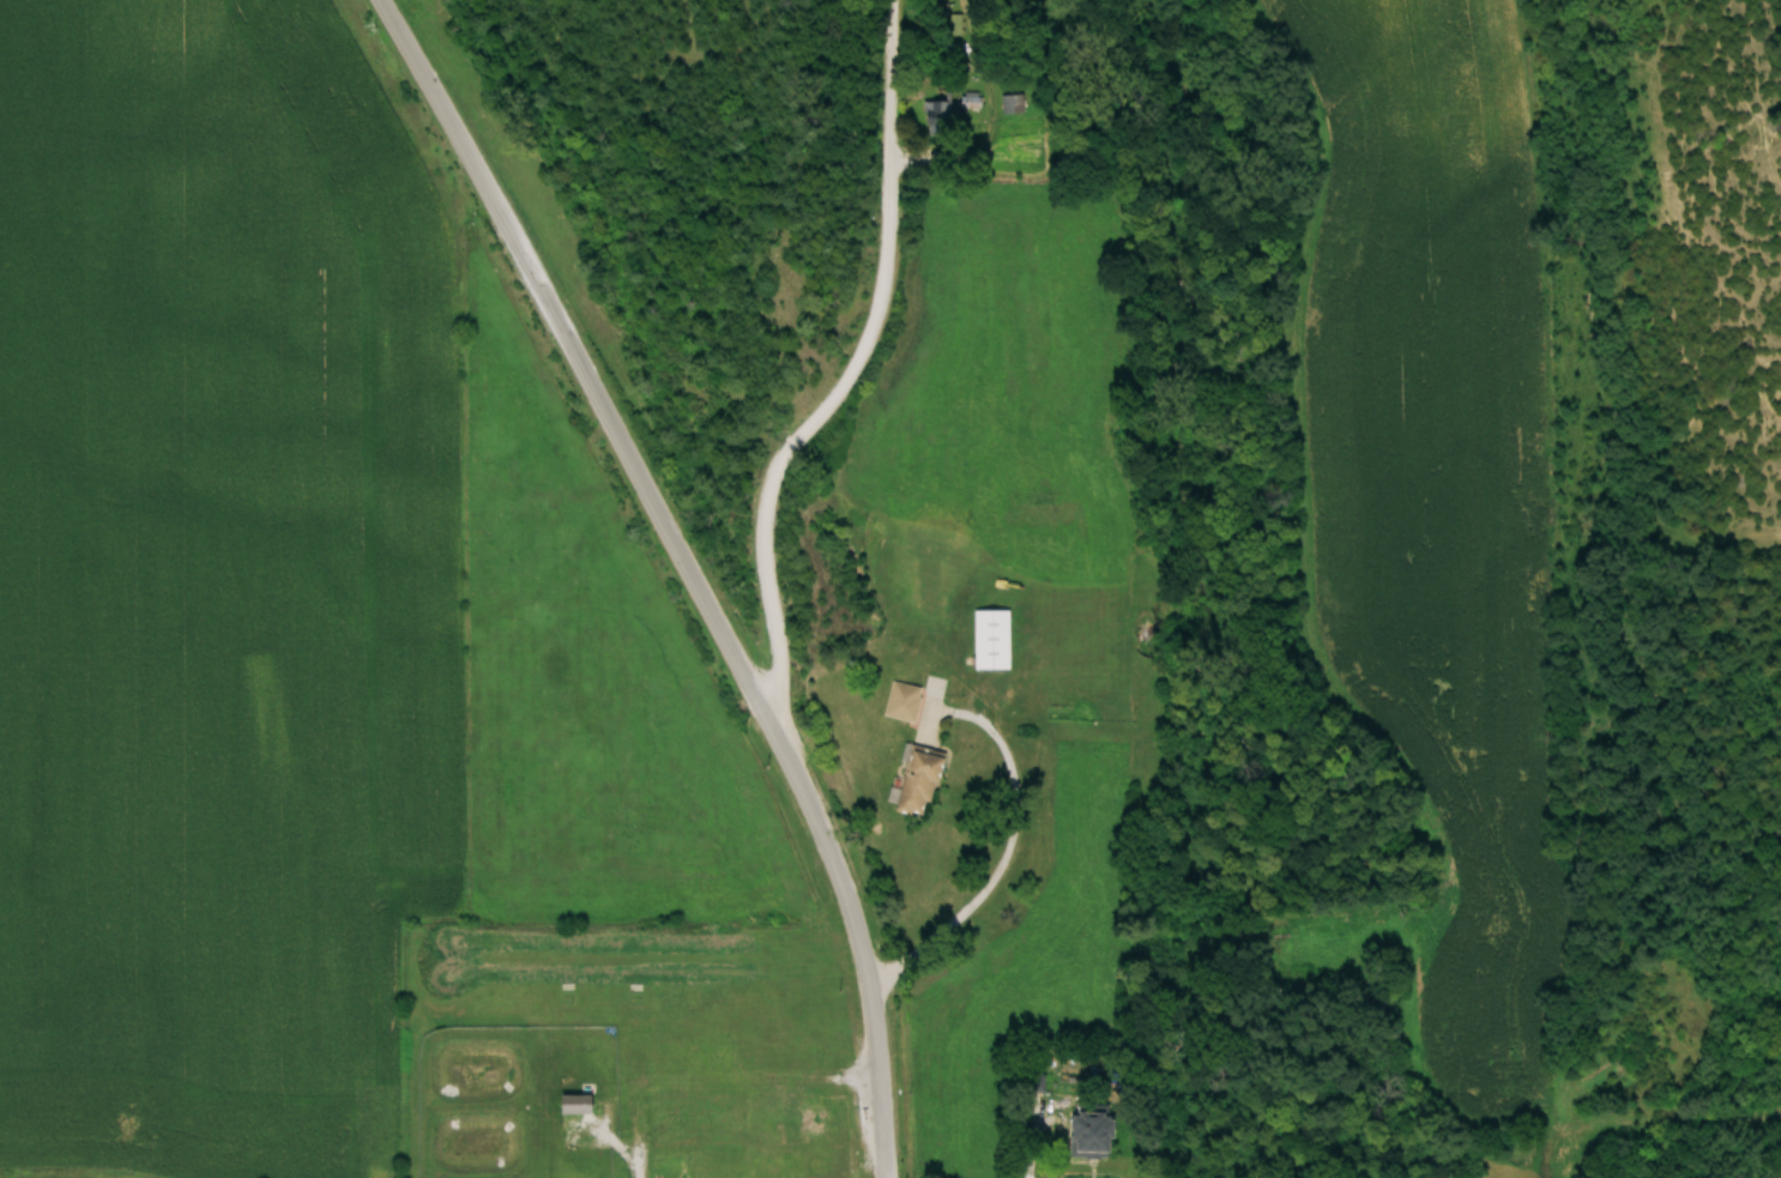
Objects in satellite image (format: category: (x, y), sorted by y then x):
building: (954, 25)
road: (417, 77)
building: (1010, 105)
road: (476, 175)
road: (845, 379)
building: (929, 588)
building: (995, 641)
road: (731, 672)
building: (905, 702)
building: (923, 781)
road: (1009, 842)
building: (1284, 969)
road: (1148, 1075)
building: (1037, 1083)
building: (708, 1119)
road: (632, 1134)
building: (1094, 1135)
road: (1541, 1156)

